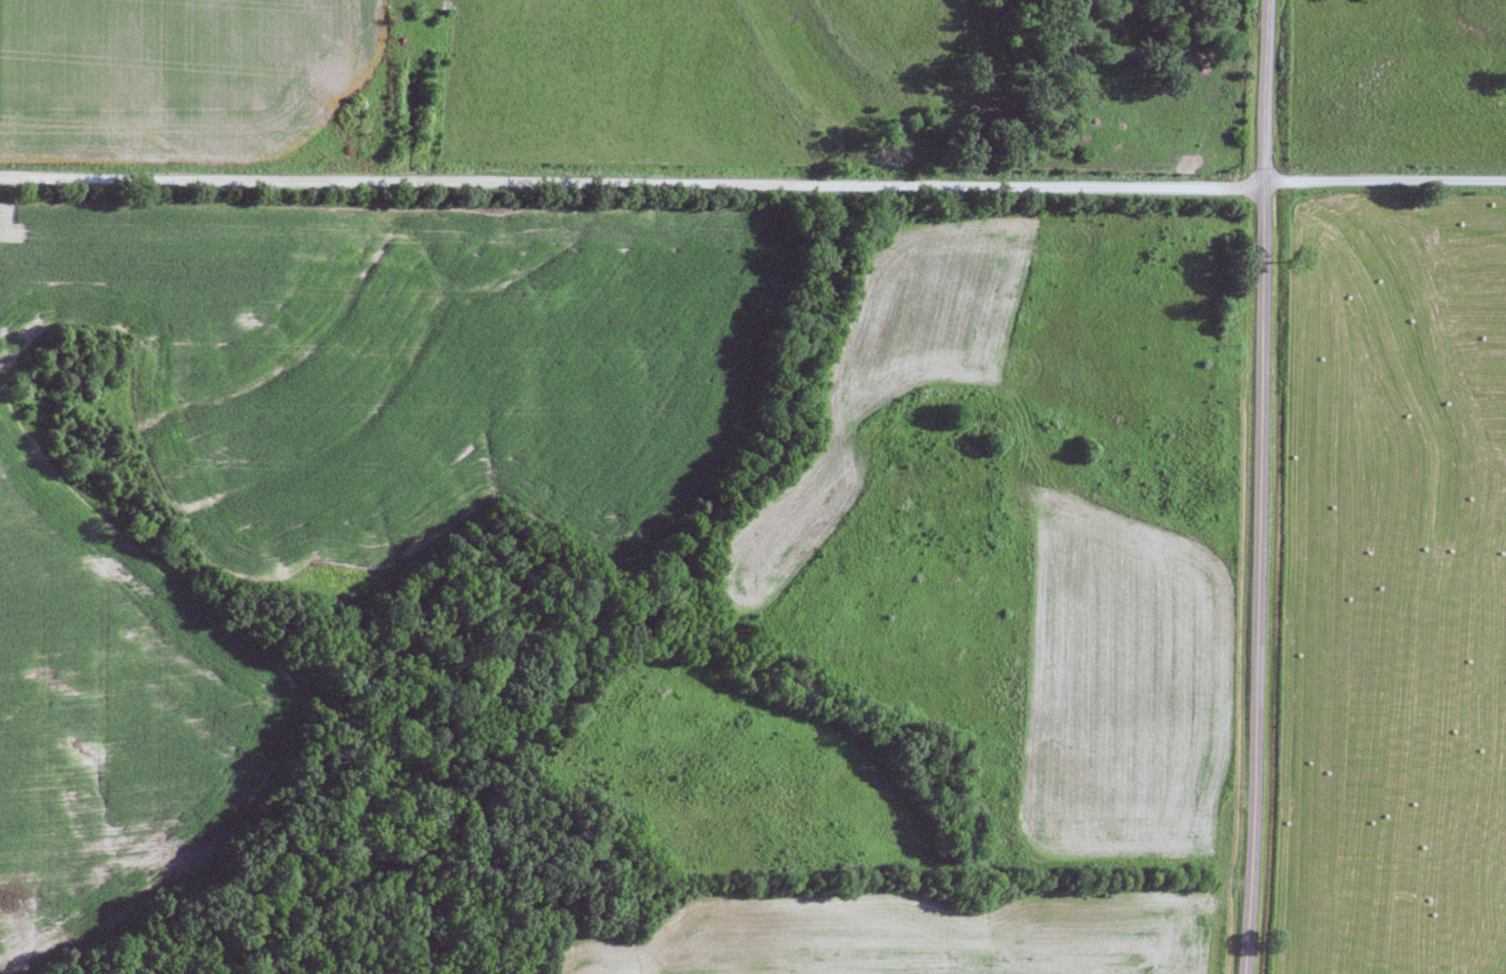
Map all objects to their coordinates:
road: (629, 178)
road: (1382, 182)
road: (1260, 487)

